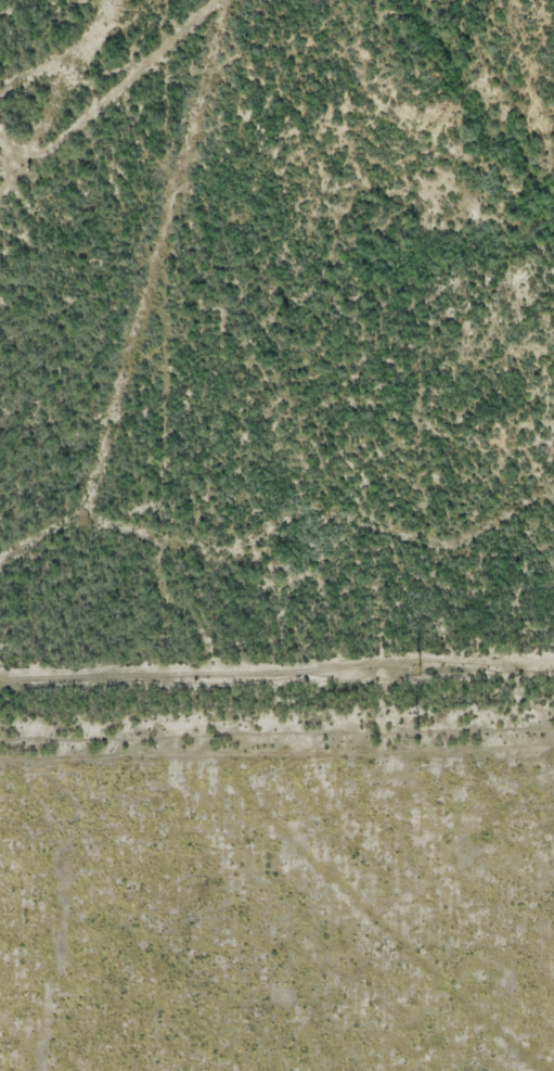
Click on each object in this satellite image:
power tower: (418, 671)
power tower: (420, 732)

